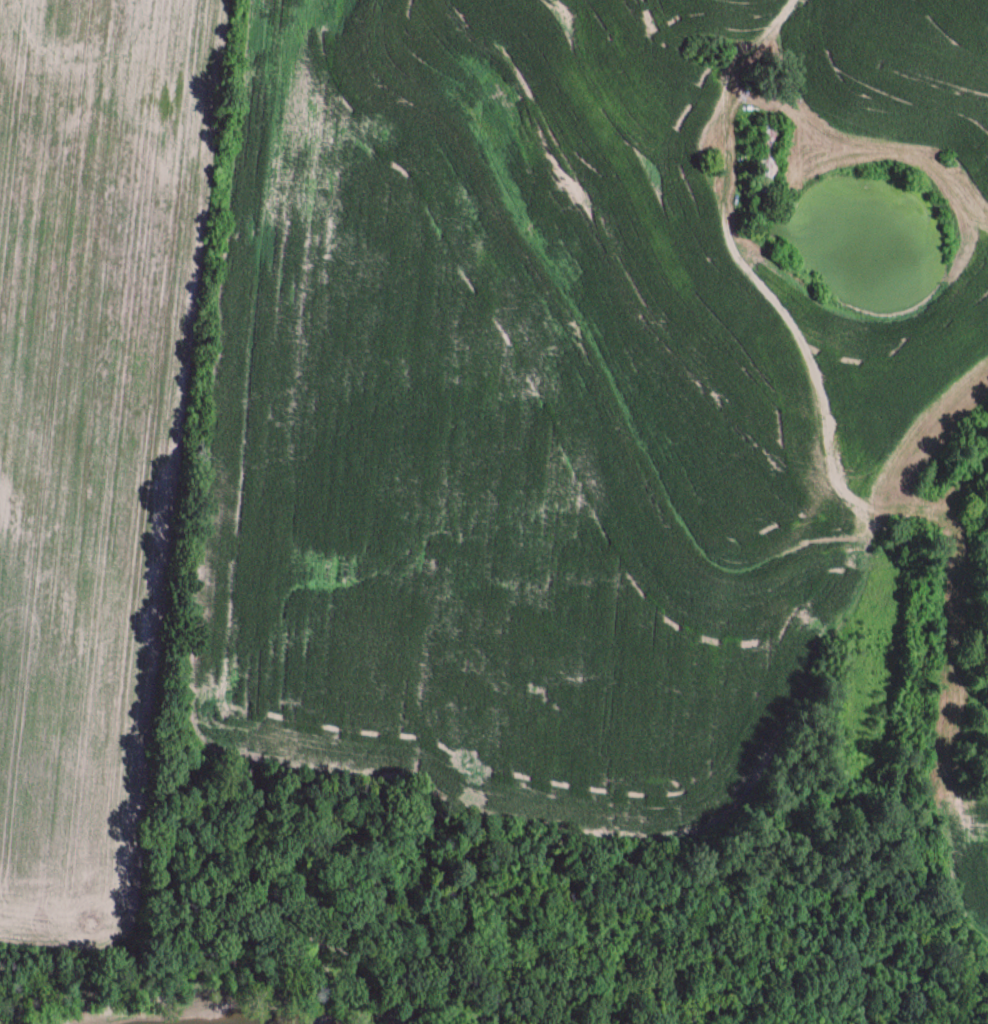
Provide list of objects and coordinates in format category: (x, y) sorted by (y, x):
road: (729, 89)
building: (769, 160)
road: (298, 444)

